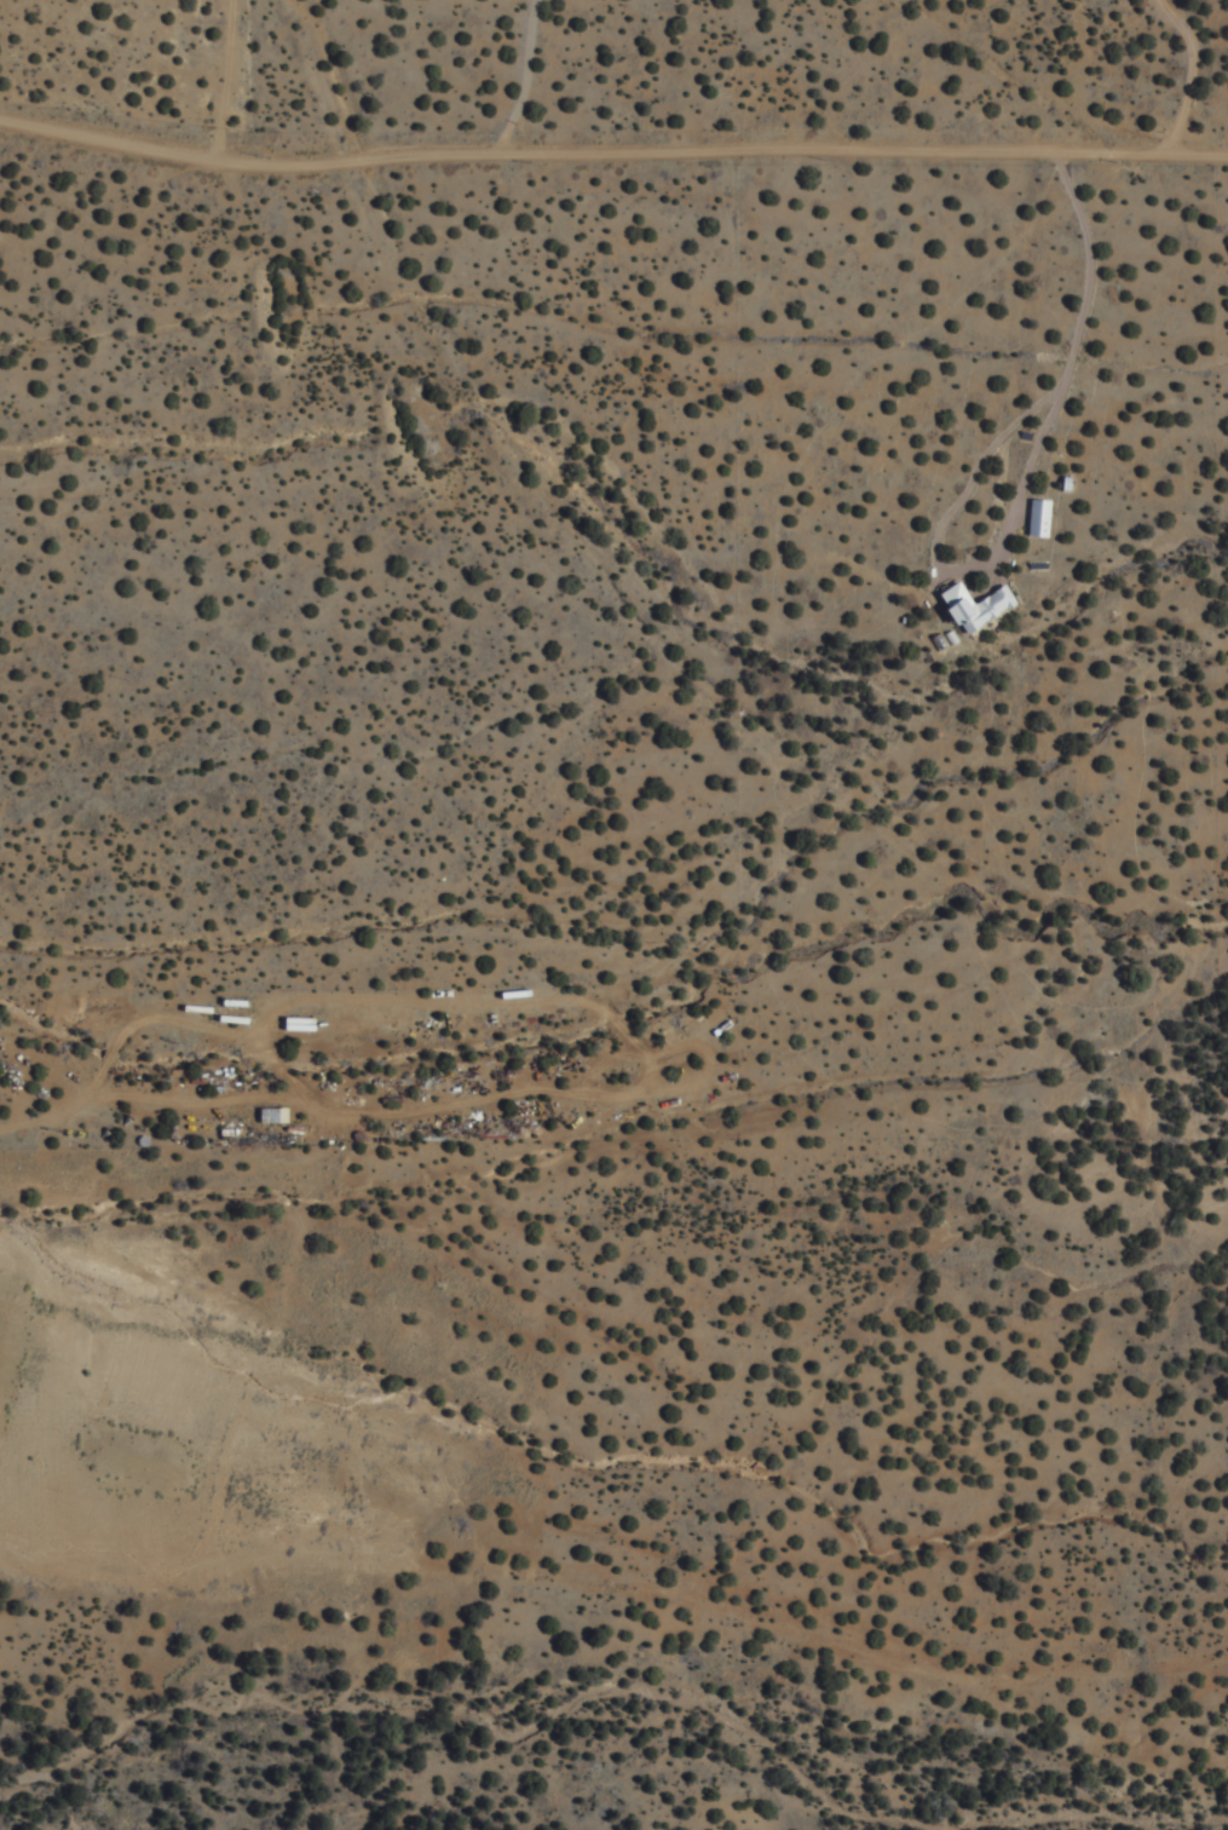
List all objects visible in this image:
building: (1045, 518)
building: (982, 606)
building: (306, 1026)
building: (276, 1115)
road: (616, 1586)
road: (612, 1691)

